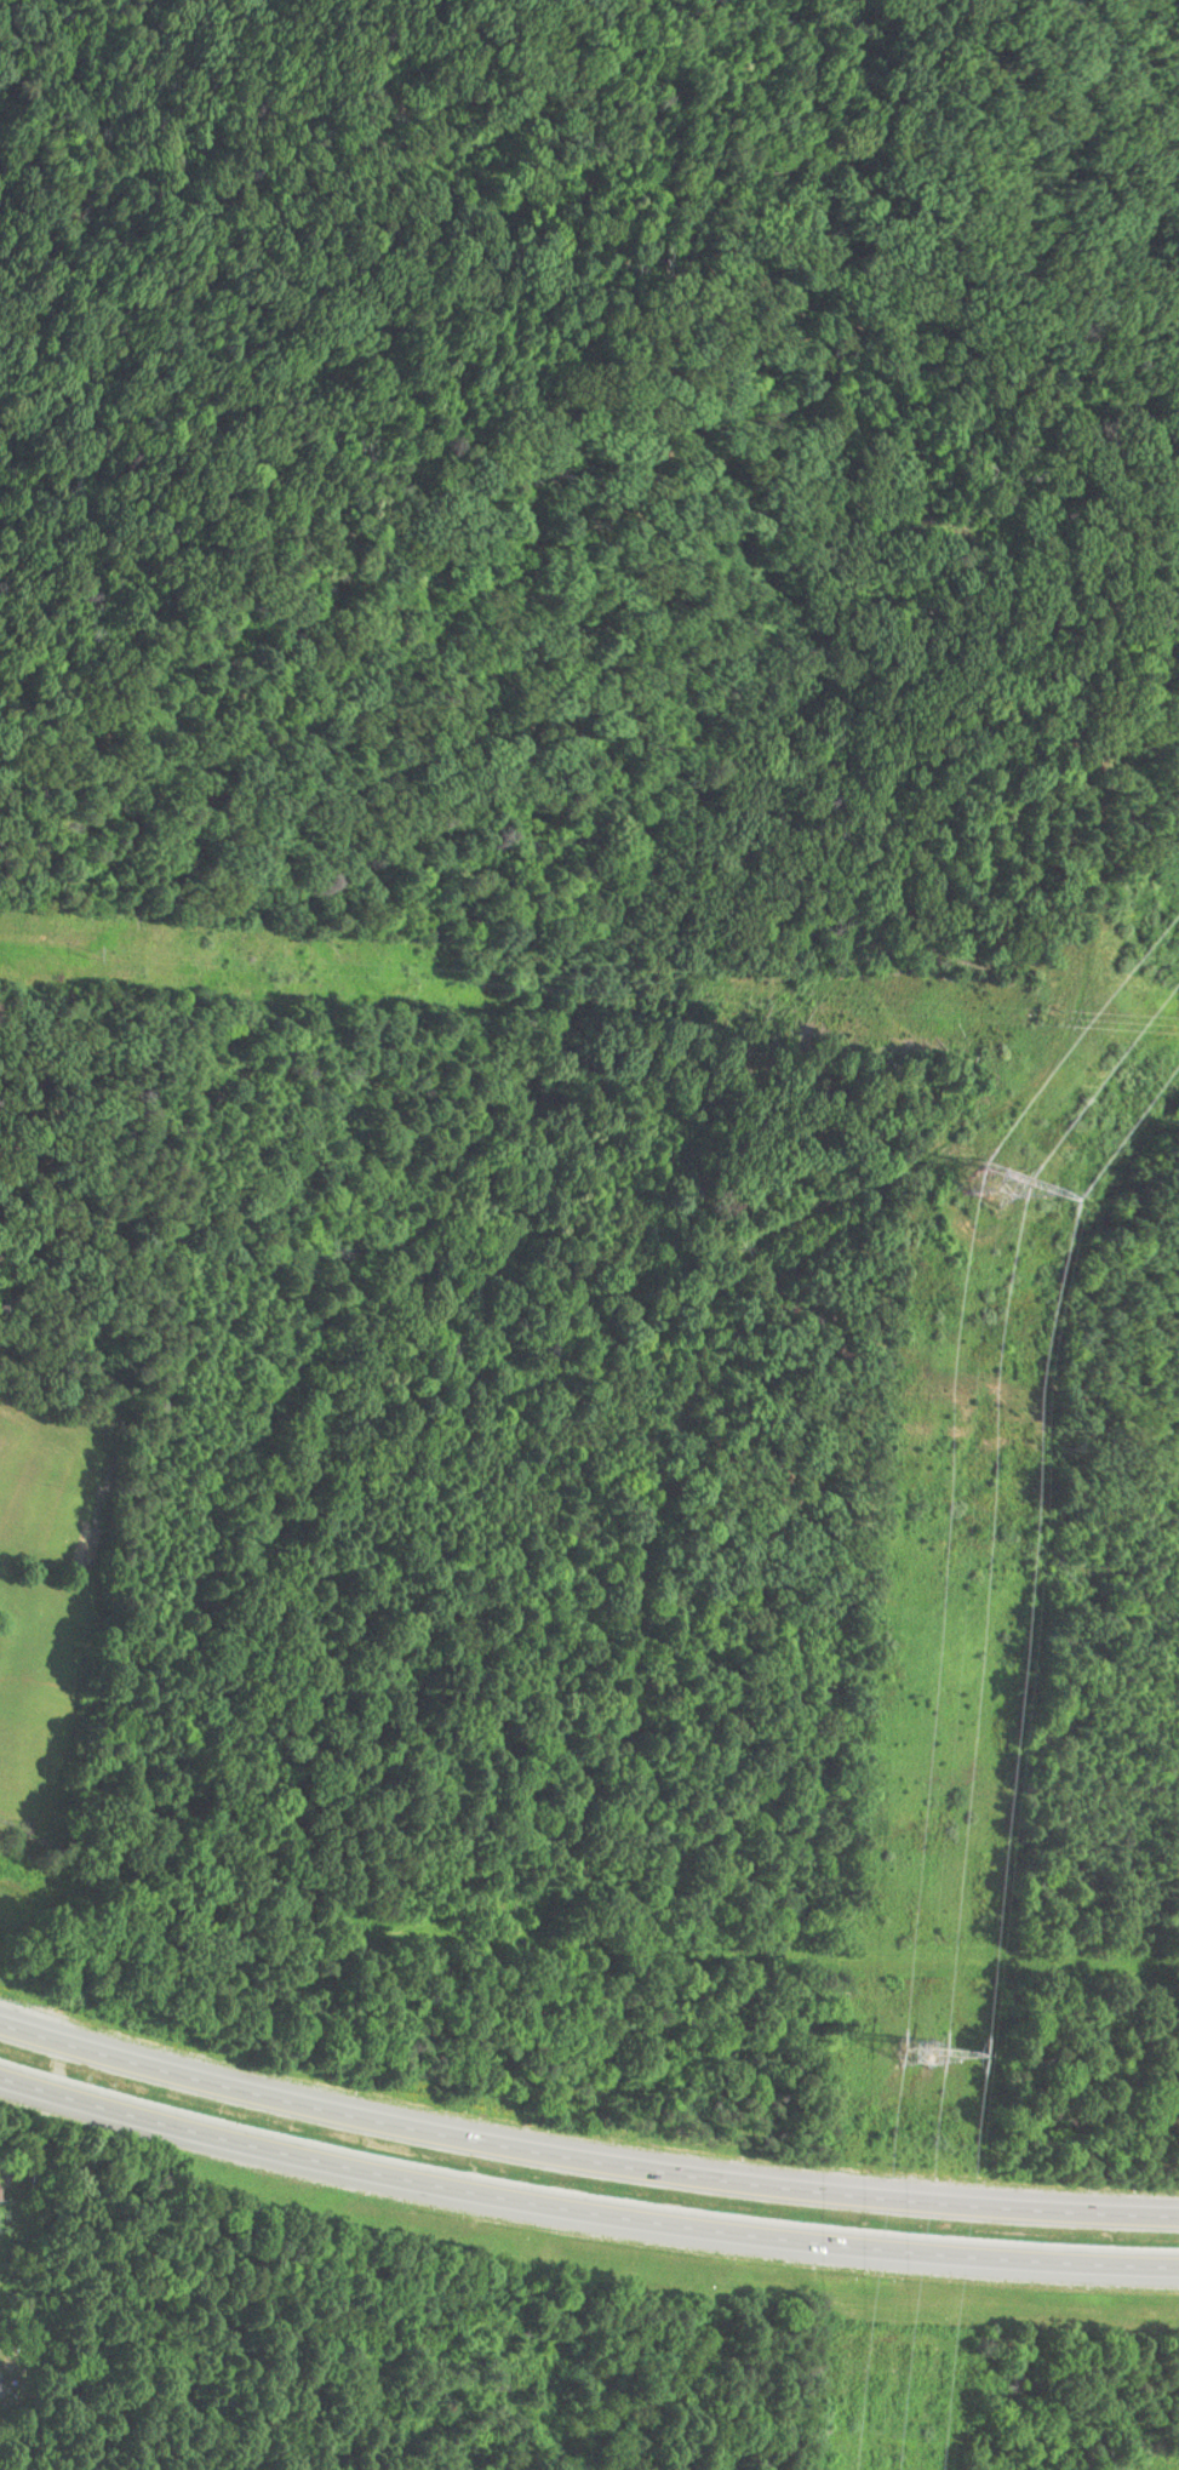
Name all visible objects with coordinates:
power tower: (980, 1177)
road: (682, 1394)
power tower: (918, 2056)
road: (582, 2161)
road: (583, 2217)

